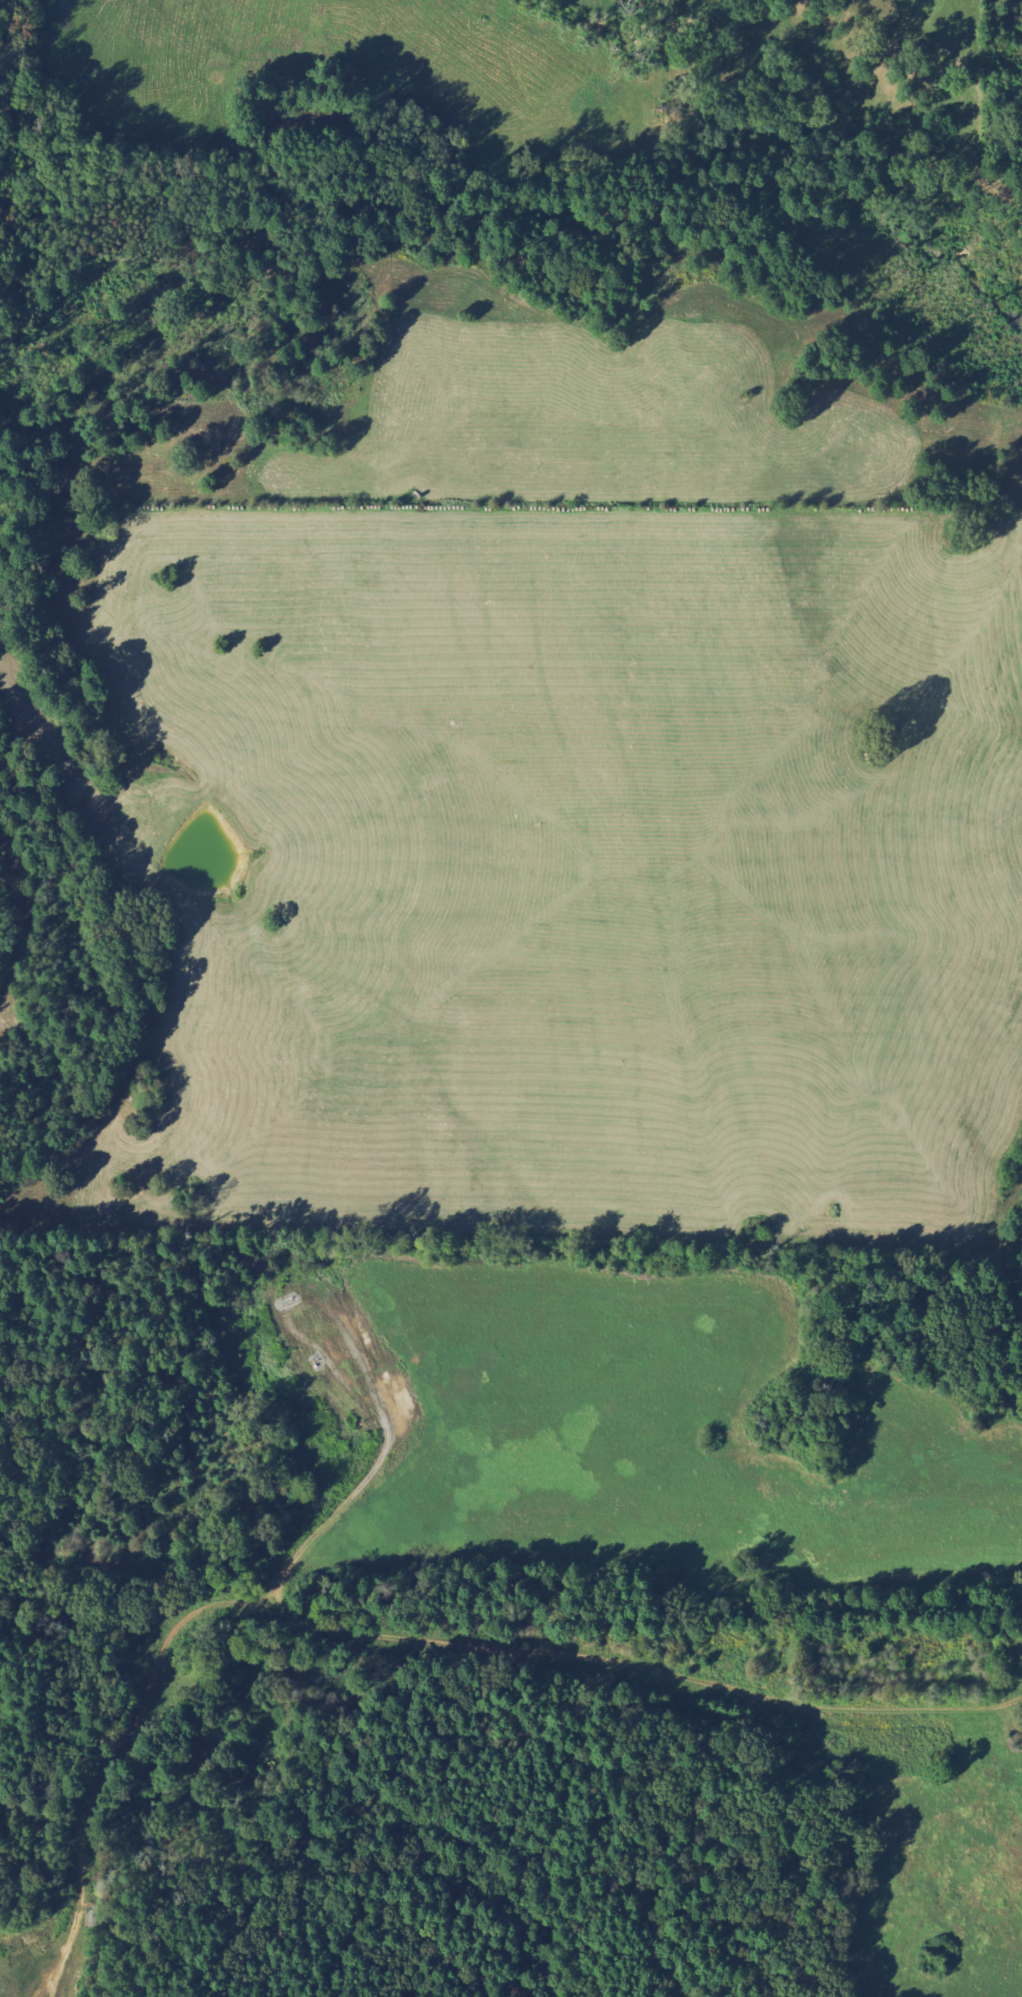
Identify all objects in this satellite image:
road: (294, 1304)
road: (330, 1516)
road: (399, 1637)

